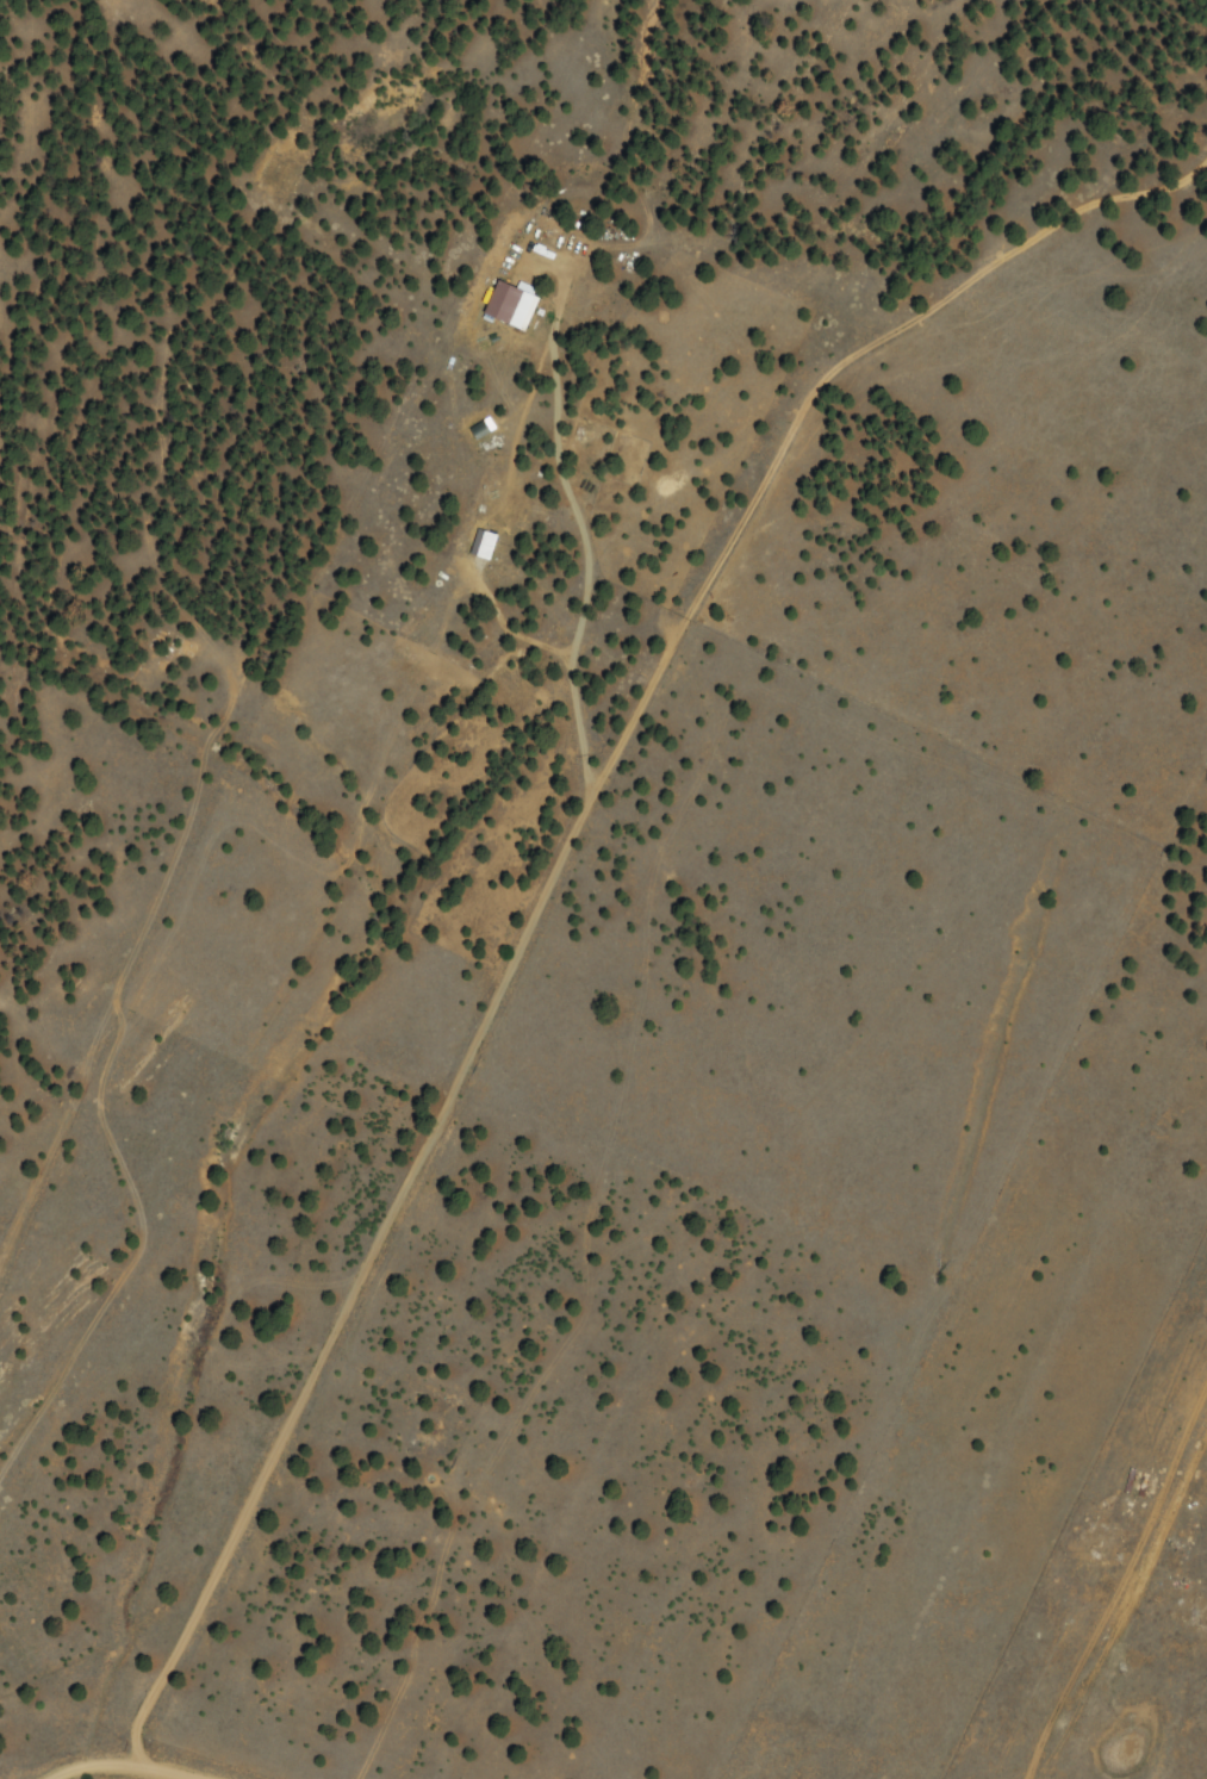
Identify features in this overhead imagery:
building: (286, 163)
building: (510, 305)
building: (483, 545)

